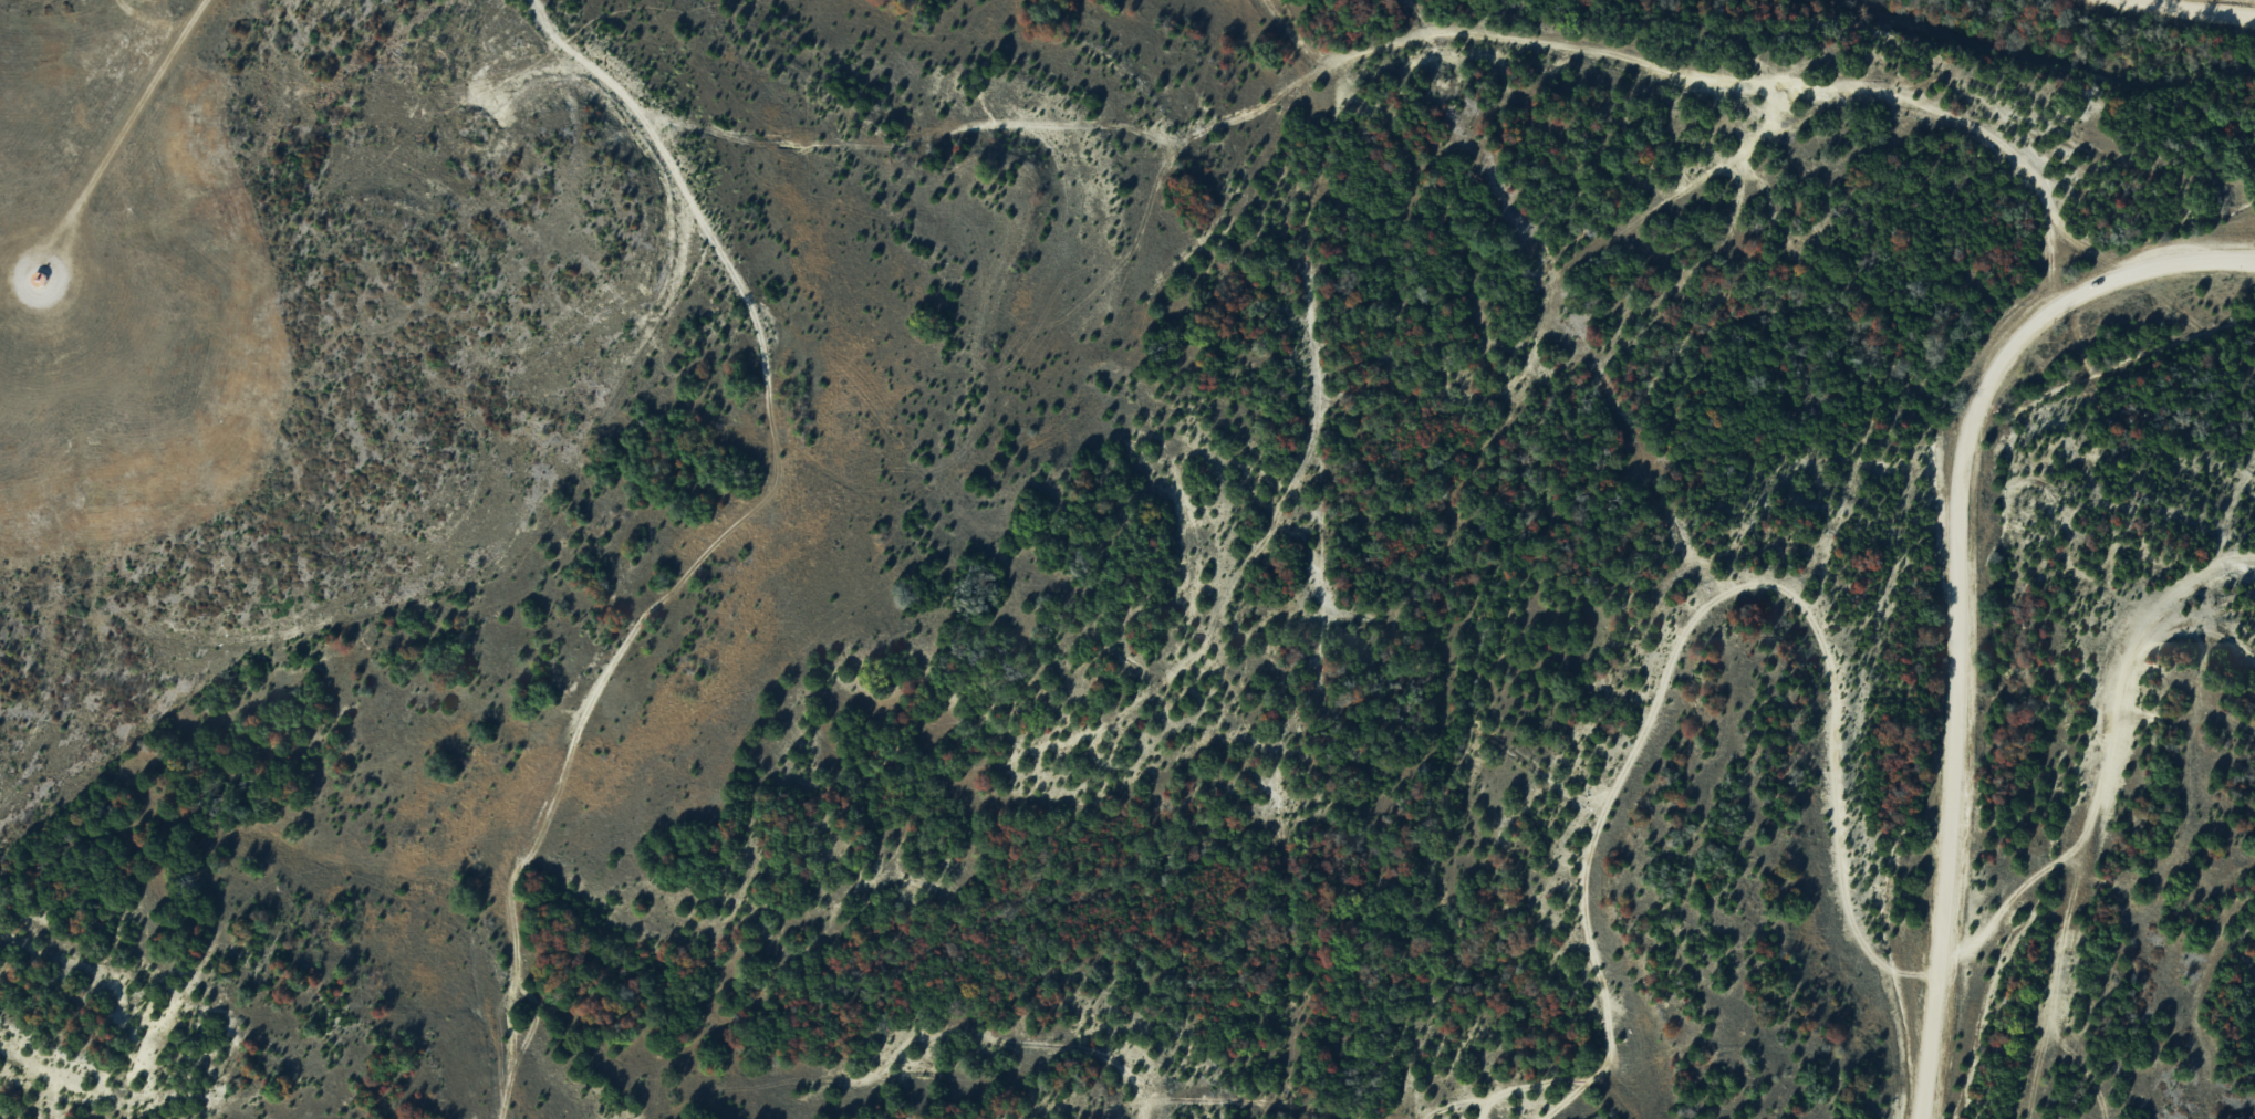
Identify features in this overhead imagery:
road: (2180, 10)
road: (1957, 599)

